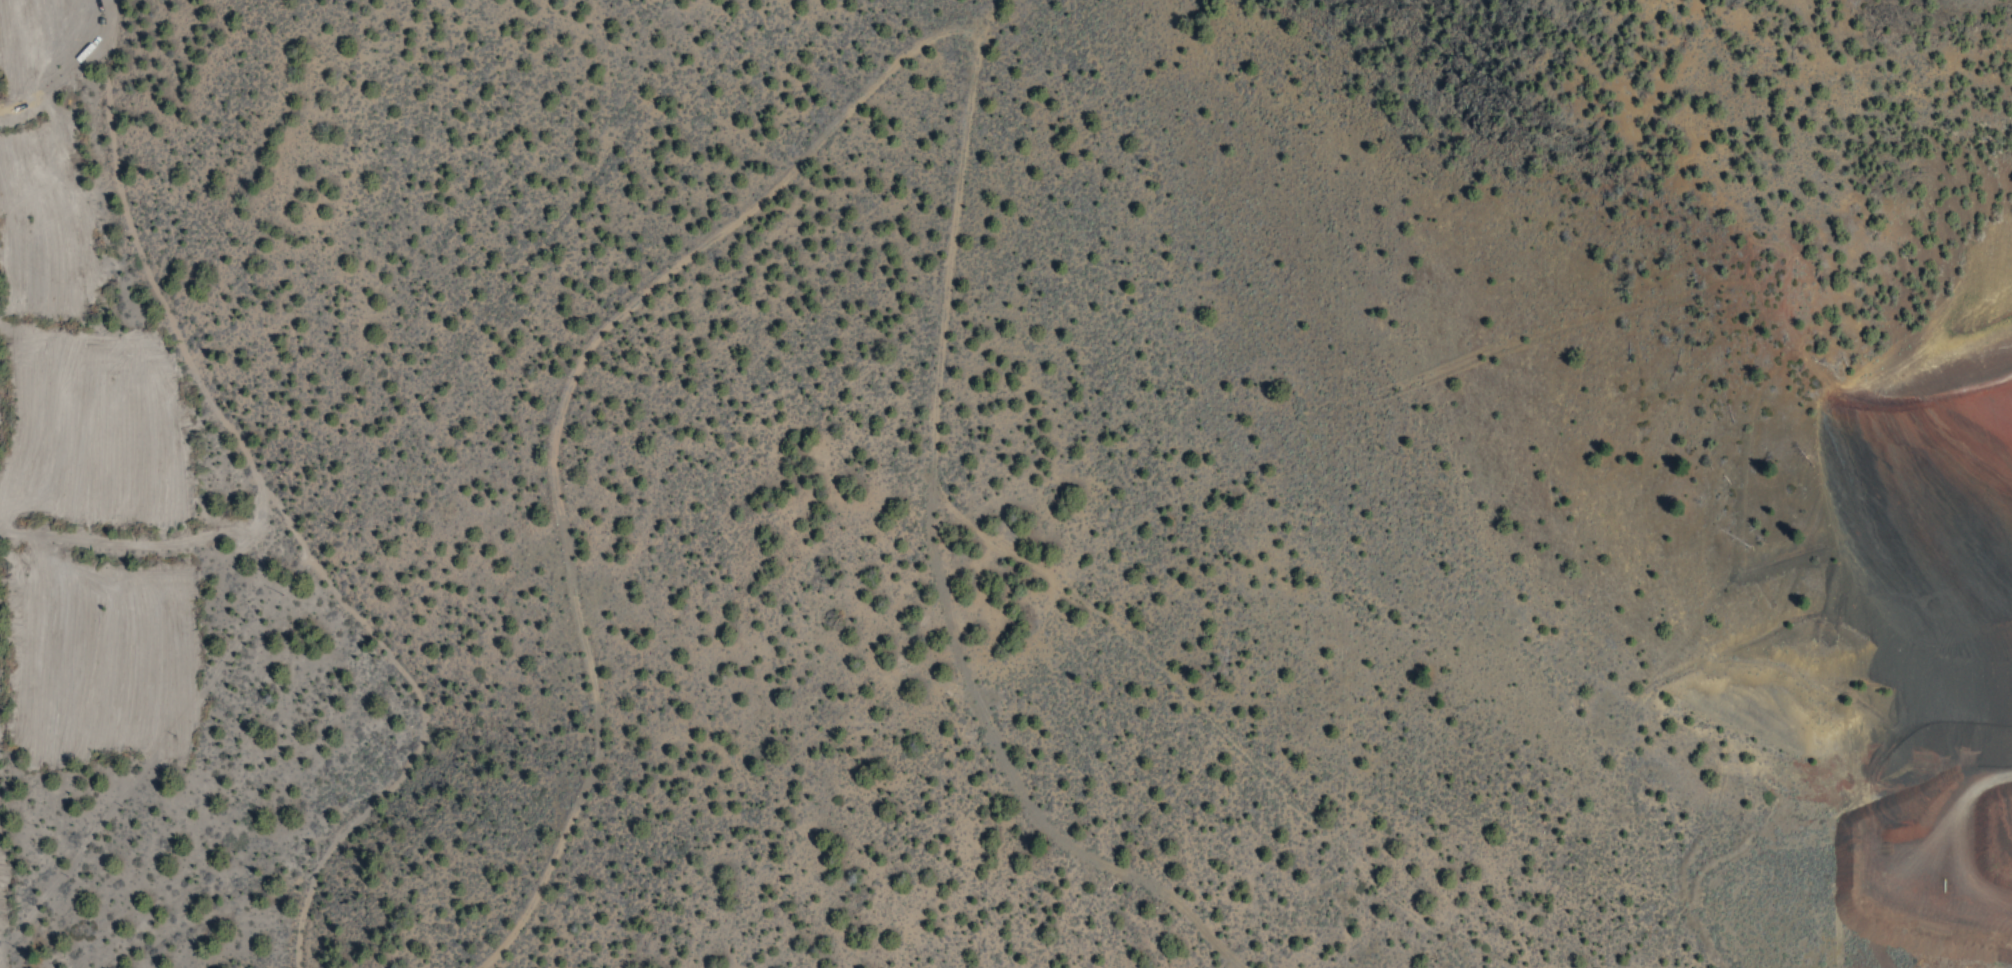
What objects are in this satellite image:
quarry: (1908, 656)

